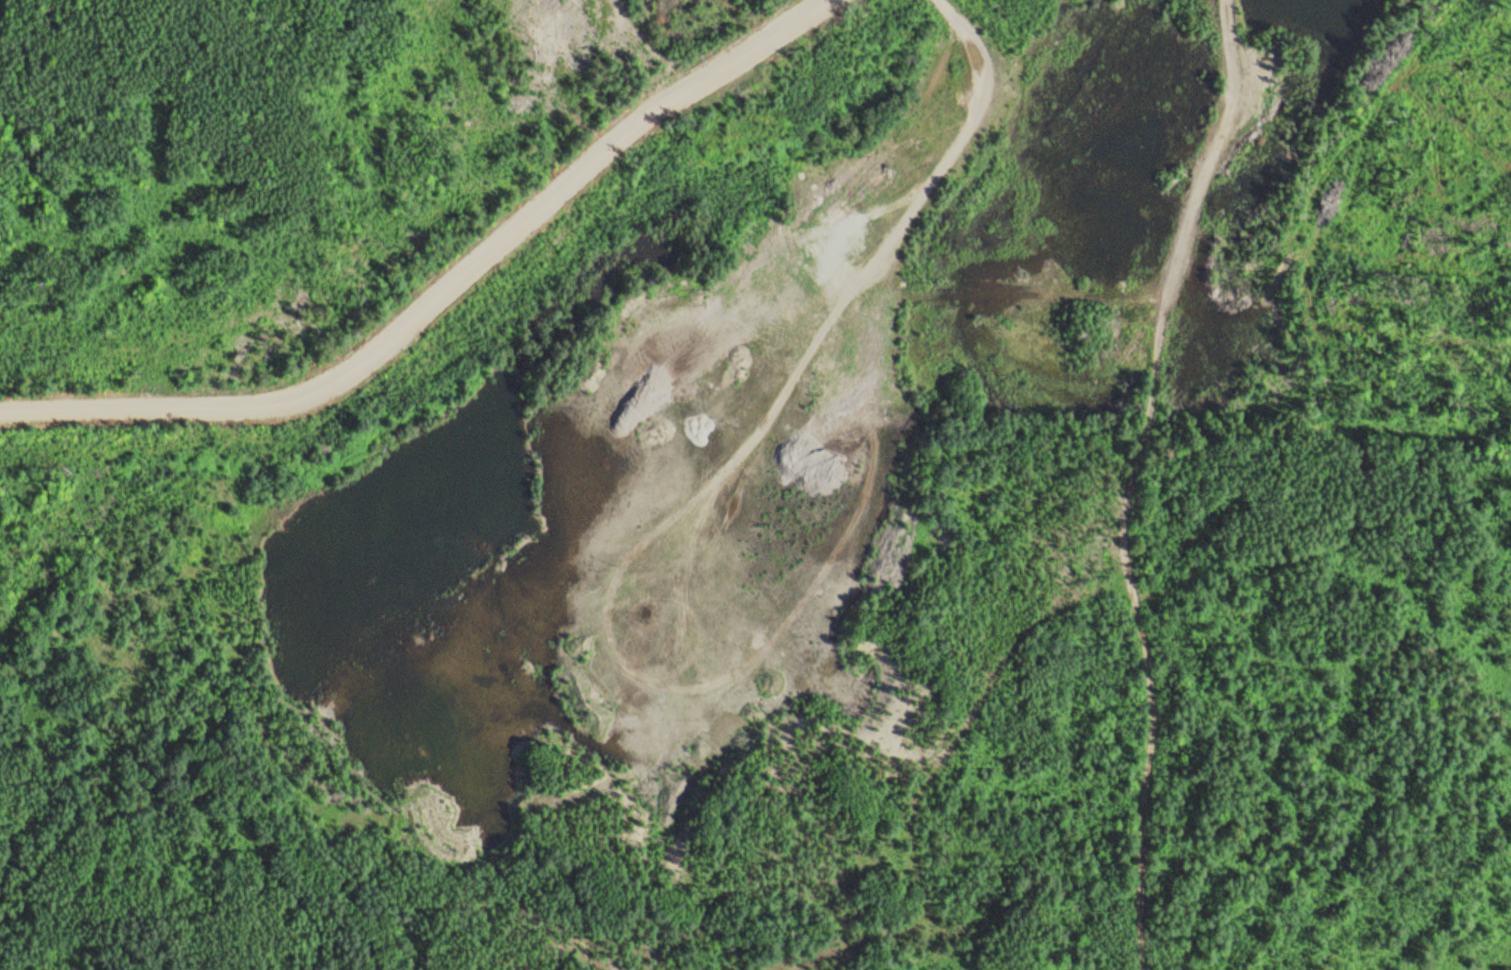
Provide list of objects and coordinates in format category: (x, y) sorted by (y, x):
road: (445, 298)
road: (1133, 479)

